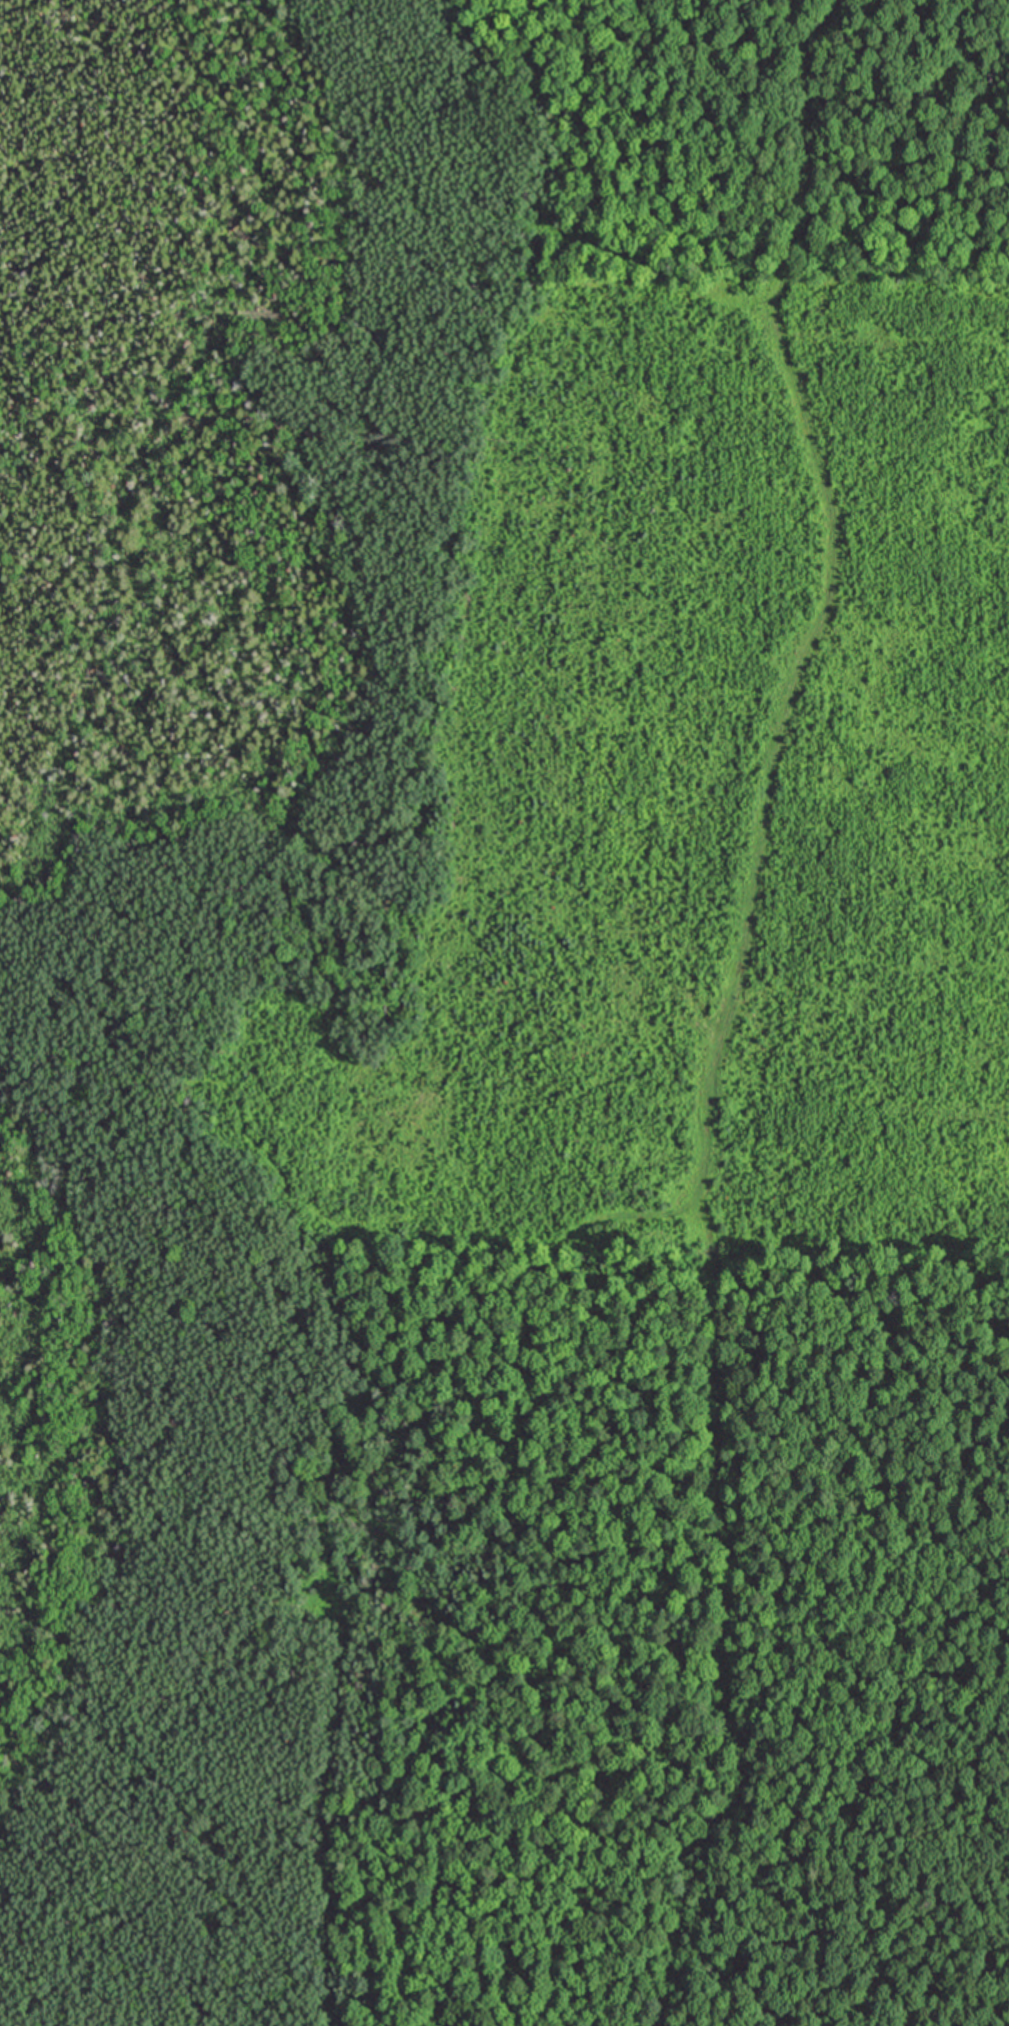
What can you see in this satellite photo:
road: (719, 1001)

